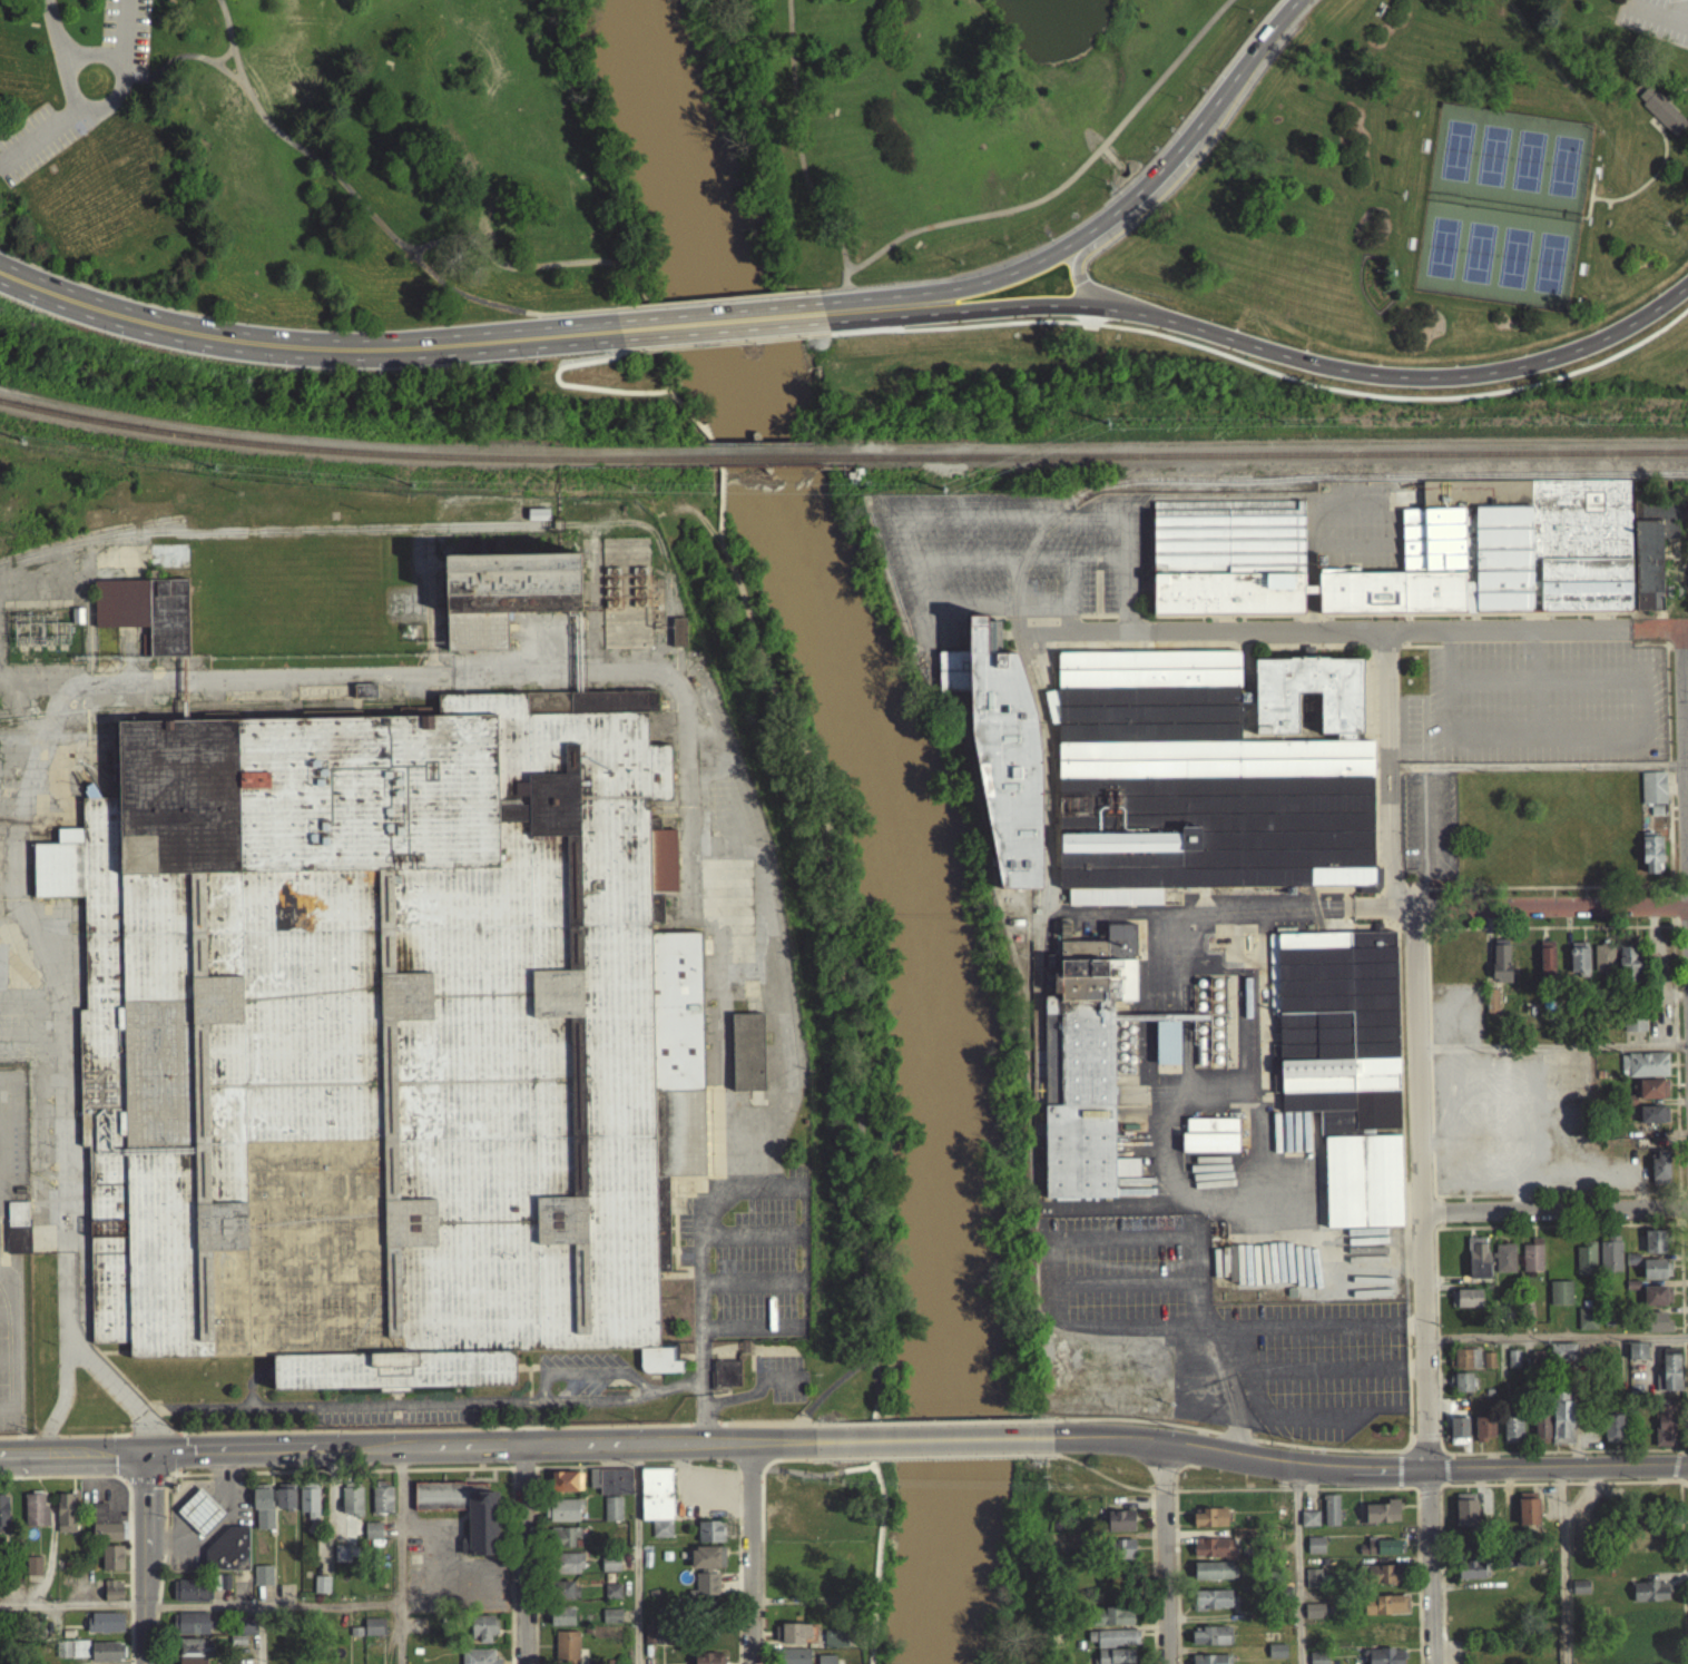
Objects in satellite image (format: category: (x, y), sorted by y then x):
road: (1656, 11)
parking lot: (1652, 24)
road: (121, 35)
parking lot: (125, 36)
road: (52, 39)
road: (65, 55)
road: (190, 61)
road: (222, 61)
road: (144, 77)
road: (133, 86)
road: (121, 90)
road: (1676, 96)
road: (1659, 116)
building: (1660, 117)
road: (39, 140)
parking lot: (38, 145)
park: (1453, 156)
park: (858, 158)
park: (1489, 161)
park: (1525, 166)
road: (1111, 167)
park: (1561, 171)
road: (1649, 184)
road: (1131, 203)
road: (1587, 207)
road: (369, 219)
road: (1158, 219)
road: (936, 230)
road: (446, 243)
road: (392, 248)
park: (1440, 254)
park: (1475, 258)
road: (1077, 260)
park: (1512, 263)
road: (498, 268)
park: (1547, 268)
road: (630, 282)
road: (838, 294)
road: (816, 295)
road: (714, 306)
road: (608, 316)
road: (862, 316)
road: (720, 327)
road: (827, 343)
road: (726, 348)
road: (304, 353)
road: (622, 355)
road: (1303, 367)
road: (1266, 376)
road: (661, 386)
road: (569, 392)
railway: (346, 449)
railway: (1256, 453)
railway: (762, 456)
road: (713, 459)
railway: (1064, 502)
road: (977, 524)
railway: (285, 529)
railway: (88, 534)
building: (1655, 544)
building: (1503, 550)
building: (1229, 555)
road: (1128, 579)
building: (504, 592)
road: (1015, 601)
building: (146, 609)
road: (1393, 612)
road: (1685, 624)
road: (1410, 628)
road: (1405, 629)
building: (678, 630)
road: (1242, 630)
road: (1078, 631)
power substation: (47, 634)
road: (1353, 644)
road: (1677, 647)
building: (364, 698)
railway: (218, 713)
building: (1051, 713)
railway: (57, 733)
road: (1685, 754)
building: (1001, 758)
road: (1538, 765)
road: (1388, 771)
building: (1209, 775)
building: (1652, 795)
river: (890, 815)
road: (1427, 837)
building: (1651, 861)
road: (1543, 886)
building: (1113, 904)
road: (1551, 905)
road: (1672, 916)
road: (1551, 925)
building: (1602, 966)
building: (1500, 967)
building: (1545, 967)
building: (1578, 967)
building: (1627, 972)
building: (1633, 1028)
building: (384, 1037)
road: (1553, 1045)
building: (1166, 1051)
building: (746, 1059)
building: (1344, 1061)
road: (1431, 1061)
building: (1647, 1063)
building: (1653, 1087)
road: (861, 1089)
building: (1652, 1096)
building: (1633, 1097)
building: (1652, 1122)
building: (1211, 1133)
building: (1658, 1172)
road: (1404, 1187)
road: (772, 1188)
road: (1561, 1191)
road: (67, 1197)
road: (1555, 1208)
road: (1443, 1210)
road: (1559, 1223)
road: (1685, 1223)
building: (17, 1234)
building: (1653, 1249)
building: (1609, 1262)
building: (1532, 1263)
building: (1476, 1266)
building: (1504, 1266)
building: (1584, 1267)
building: (1656, 1277)
road: (1424, 1286)
building: (1560, 1300)
building: (1656, 1303)
building: (1466, 1306)
building: (1587, 1326)
building: (1656, 1330)
road: (1555, 1333)
road: (1439, 1337)
building: (1636, 1358)
building: (1562, 1360)
building: (1465, 1366)
building: (1488, 1367)
road: (589, 1371)
building: (1670, 1377)
building: (725, 1380)
road: (833, 1385)
building: (1462, 1390)
road: (740, 1397)
road: (63, 1398)
road: (422, 1401)
road: (934, 1419)
road: (769, 1420)
building: (1460, 1427)
building: (1485, 1427)
road: (1220, 1430)
building: (1561, 1430)
building: (1665, 1432)
road: (1425, 1434)
building: (1611, 1436)
building: (1512, 1437)
building: (1540, 1437)
road: (934, 1438)
road: (1687, 1444)
road: (481, 1446)
road: (1677, 1448)
road: (73, 1453)
traffic signals: (149, 1453)
road: (943, 1456)
road: (804, 1457)
road: (1676, 1463)
road: (1371, 1465)
road: (1446, 1466)
road: (1402, 1467)
road: (1096, 1469)
road: (812, 1473)
road: (1685, 1479)
road: (1562, 1480)
road: (1162, 1484)
road: (1295, 1487)
building: (565, 1488)
building: (610, 1488)
road: (1429, 1490)
building: (284, 1504)
building: (308, 1507)
building: (381, 1507)
building: (657, 1507)
building: (351, 1508)
building: (1468, 1508)
building: (1530, 1510)
building: (263, 1514)
building: (611, 1516)
building: (565, 1517)
building: (1329, 1517)
building: (35, 1518)
building: (3, 1519)
building: (199, 1519)
building: (1381, 1519)
building: (66, 1520)
building: (1208, 1525)
building: (1308, 1526)
building: (1119, 1528)
building: (104, 1532)
building: (1646, 1536)
building: (372, 1538)
building: (710, 1538)
building: (482, 1540)
building: (1588, 1540)
building: (1317, 1543)
building: (562, 1544)
building: (1386, 1545)
building: (1643, 1546)
road: (752, 1552)
road: (1164, 1552)
building: (1315, 1553)
road: (401, 1554)
road: (639, 1554)
road: (524, 1555)
road: (1177, 1555)
building: (1213, 1555)
building: (1380, 1555)
road: (148, 1558)
building: (227, 1558)
building: (341, 1560)
road: (1298, 1563)
road: (1562, 1564)
building: (111, 1565)
building: (707, 1565)
building: (566, 1571)
building: (609, 1571)
road: (1684, 1572)
building: (32, 1573)
road: (1443, 1573)
road: (1155, 1574)
road: (1420, 1575)
building: (1472, 1577)
building: (1211, 1578)
building: (262, 1583)
building: (1382, 1583)
building: (1312, 1586)
building: (220, 1589)
building: (706, 1591)
building: (321, 1592)
building: (1579, 1594)
building: (190, 1597)
building: (112, 1598)
building: (562, 1598)
building: (611, 1598)
building: (1216, 1598)
building: (1649, 1598)
road: (275, 1605)
road: (73, 1606)
building: (1385, 1613)
building: (1317, 1618)
building: (611, 1623)
building: (561, 1624)
building: (1112, 1624)
building: (104, 1629)
building: (189, 1631)
road: (262, 1634)
building: (373, 1634)
building: (483, 1636)
building: (794, 1641)
building: (655, 1642)
building: (1383, 1642)
building: (1211, 1644)
building: (1112, 1645)
building: (836, 1646)
building: (566, 1651)
building: (1645, 1651)
building: (193, 1654)
building: (73, 1655)
building: (106, 1656)
building: (1117, 1656)
building: (1276, 1657)
building: (477, 1660)
building: (794, 1660)
building: (1385, 1660)
building: (1317, 1661)
building: (708, 1662)
building: (825, 1663)
building: (1209, 1663)

